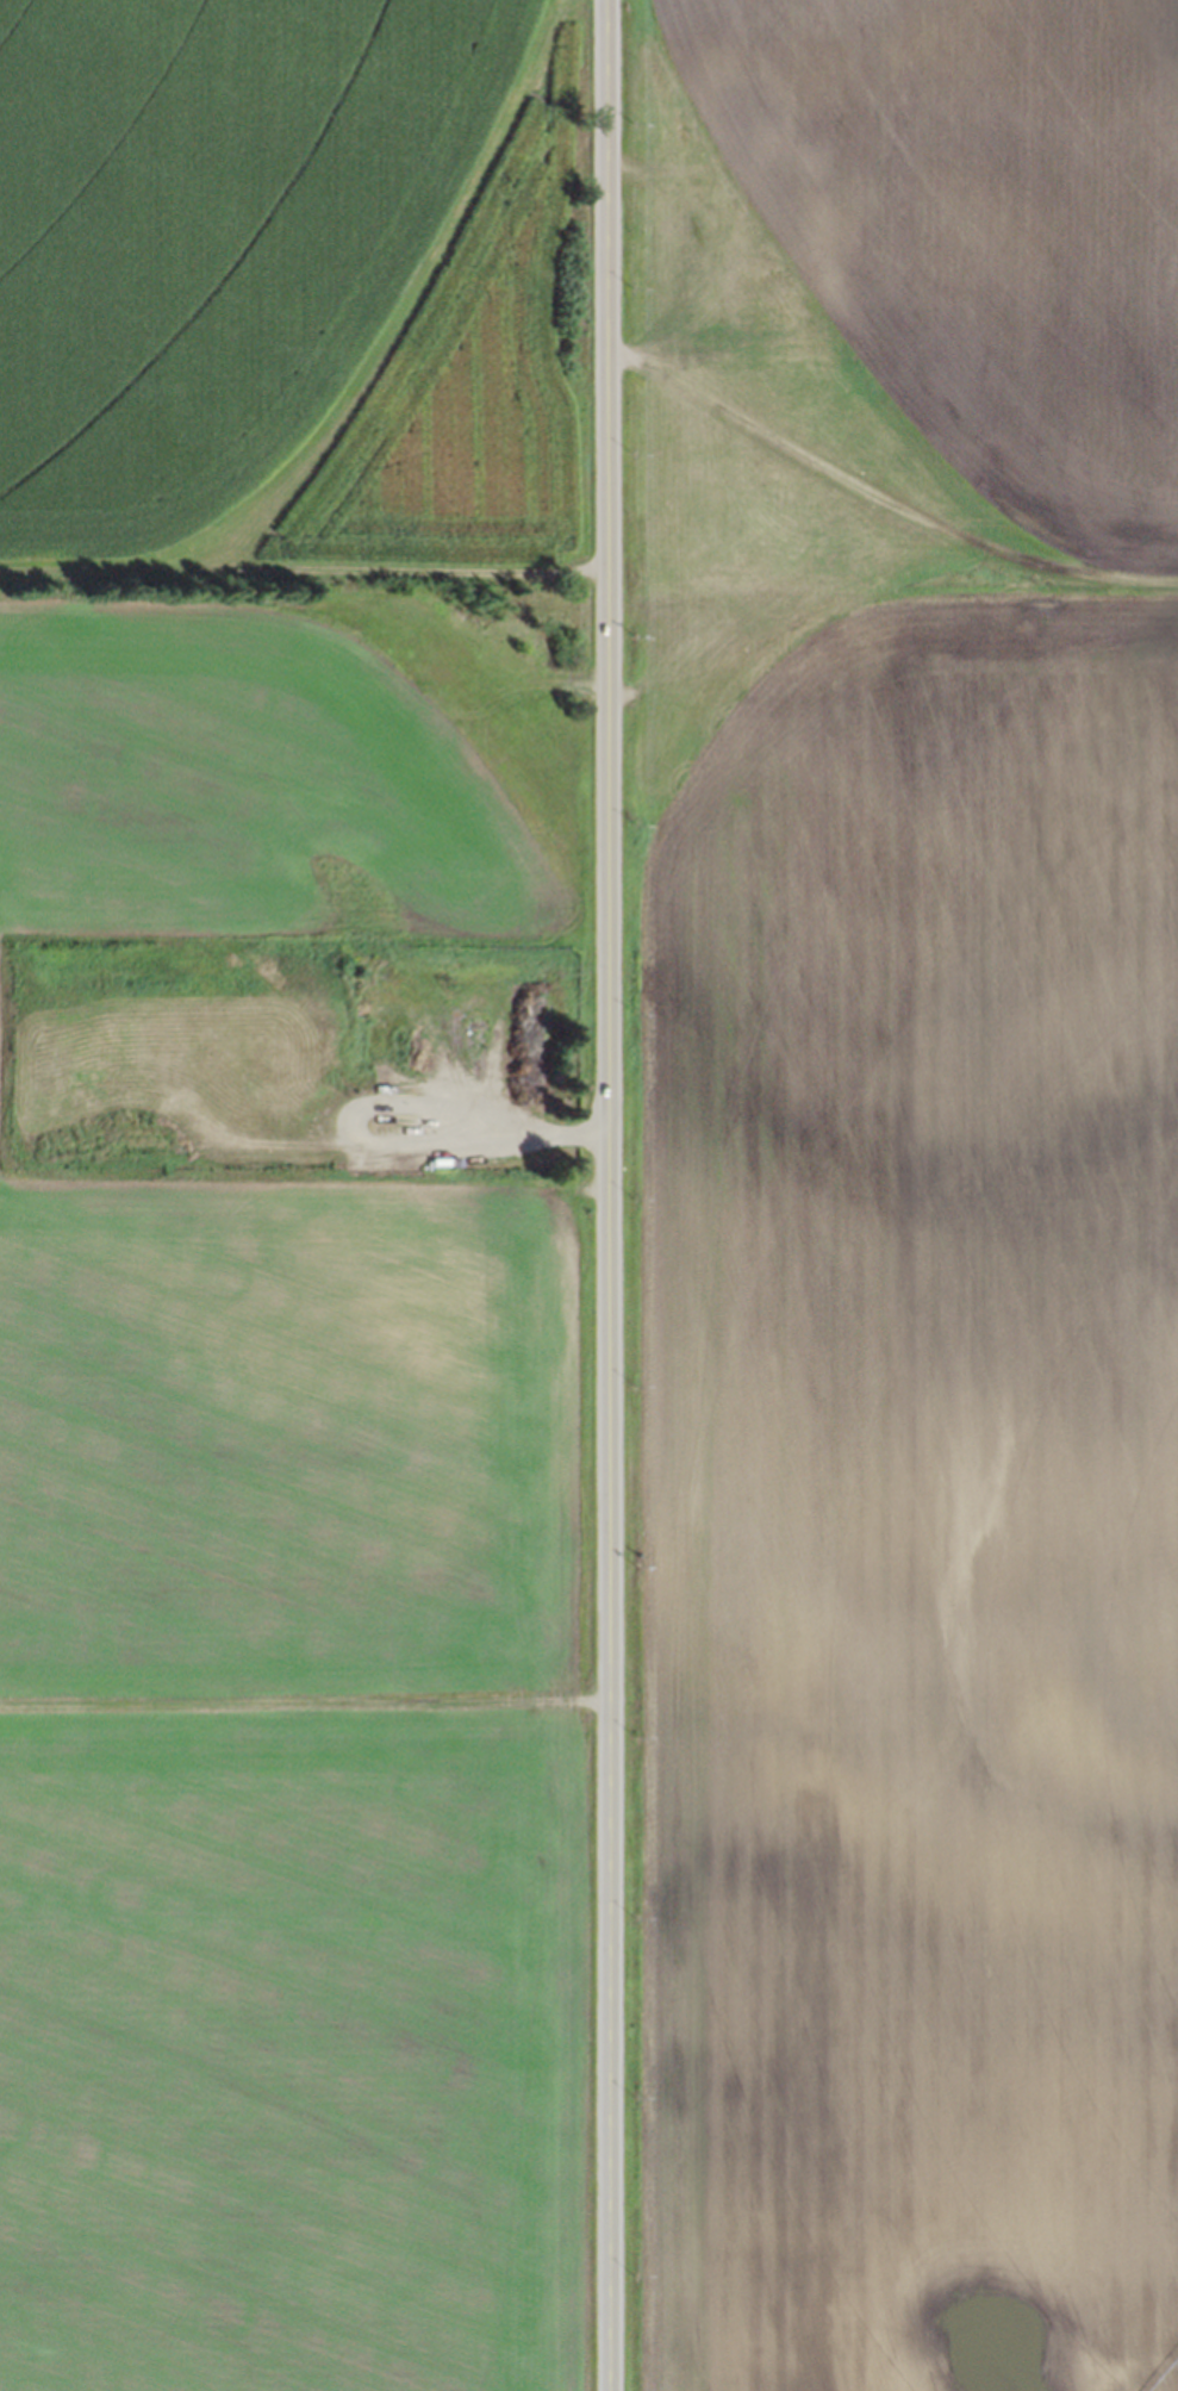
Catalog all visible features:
road: (611, 1195)

